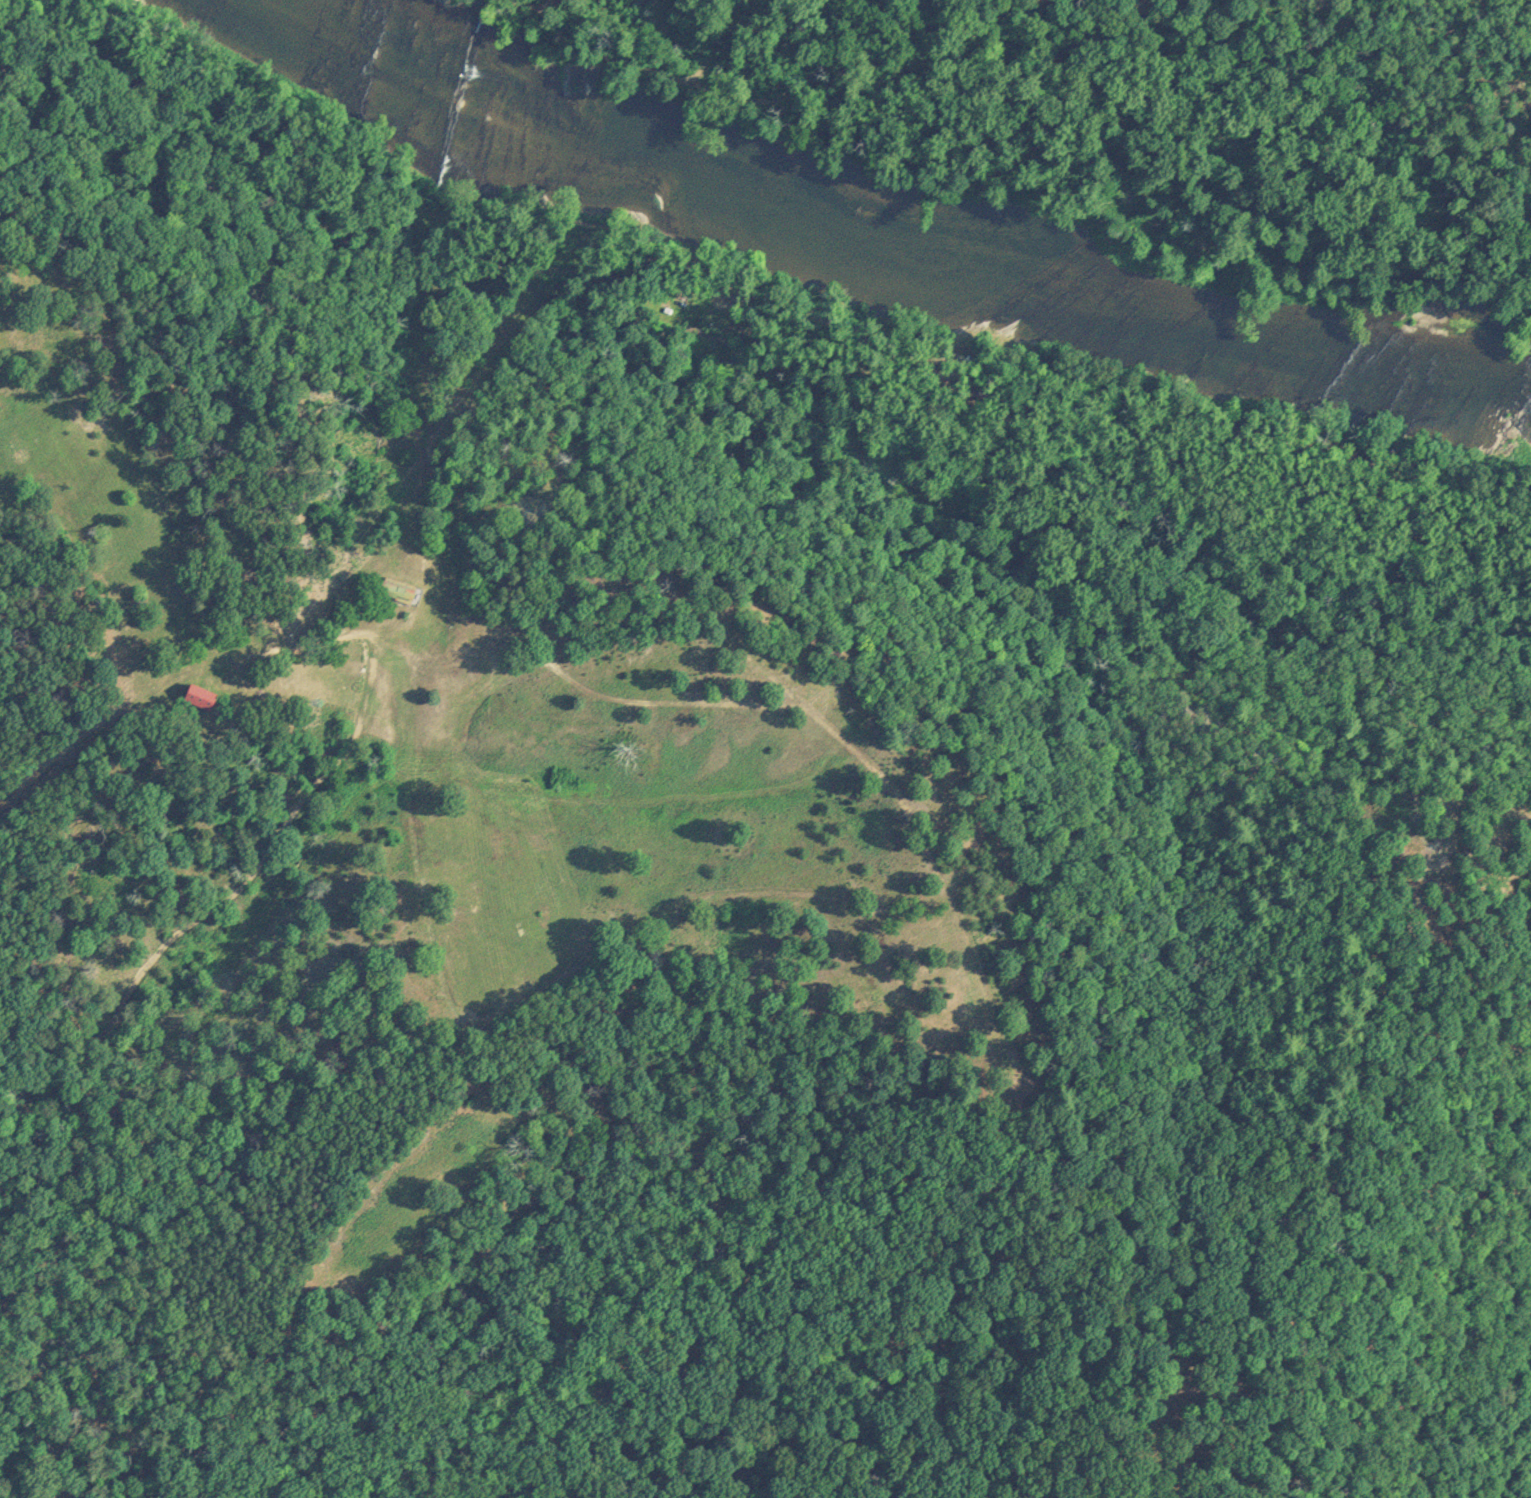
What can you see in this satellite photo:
river: (867, 233)
building: (204, 697)
crop: (539, 773)
road: (353, 823)
road: (27, 1461)

